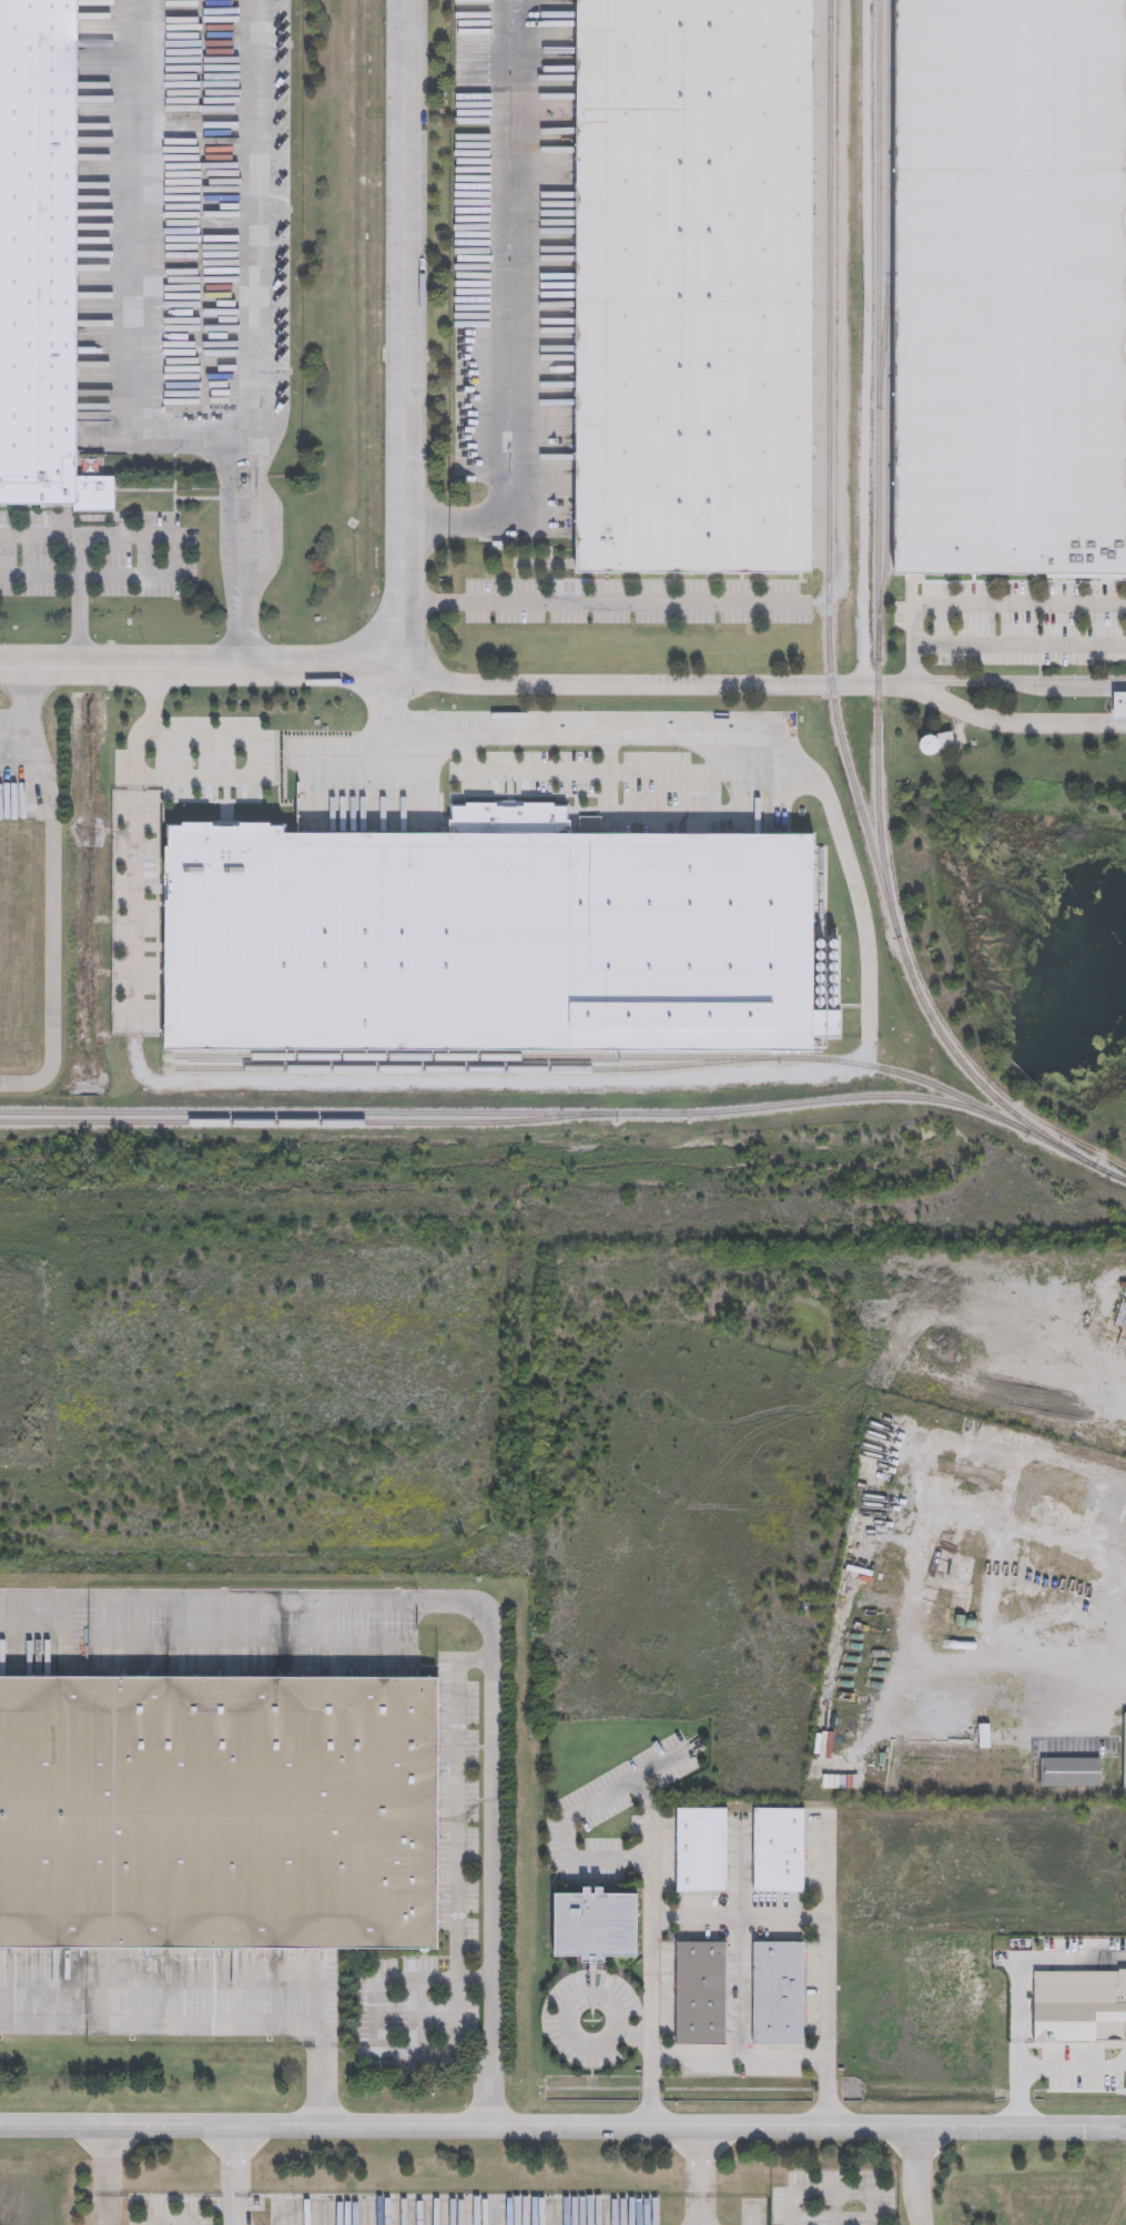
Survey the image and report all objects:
building: (39, 253)
building: (1012, 283)
building: (696, 285)
road: (840, 301)
road: (504, 311)
railway: (887, 328)
road: (250, 334)
railway: (883, 337)
road: (407, 338)
railway: (828, 474)
building: (95, 495)
road: (175, 555)
road: (69, 567)
road: (34, 575)
road: (617, 599)
road: (998, 603)
railway: (878, 643)
road: (1021, 644)
road: (915, 666)
road: (204, 669)
road: (655, 688)
road: (1015, 688)
building: (1120, 712)
road: (21, 714)
road: (1011, 728)
road: (696, 731)
building: (934, 748)
road: (246, 769)
road: (540, 772)
road: (733, 812)
road: (126, 840)
road: (42, 931)
building: (491, 948)
road: (478, 1083)
railway: (534, 1116)
railway: (307, 1126)
road: (931, 1461)
road: (270, 1599)
building: (811, 1609)
road: (1055, 1668)
building: (1124, 1756)
road: (667, 1766)
road: (619, 1796)
building: (224, 1813)
road: (455, 1819)
building: (701, 1848)
building: (778, 1848)
road: (825, 1872)
road: (495, 1893)
road: (741, 1918)
building: (592, 1923)
road: (1022, 1965)
road: (417, 1980)
road: (744, 1987)
building: (701, 1991)
building: (778, 1991)
road: (377, 2012)
road: (456, 2016)
road: (39, 2019)
road: (250, 2020)
road: (637, 2036)
road: (580, 2044)
road: (743, 2055)
road: (1074, 2070)
road: (1018, 2099)
road: (562, 2126)
road: (104, 2175)
road: (232, 2175)
road: (919, 2175)
road: (706, 2176)
road: (828, 2194)
road: (835, 2209)
road: (173, 2219)

